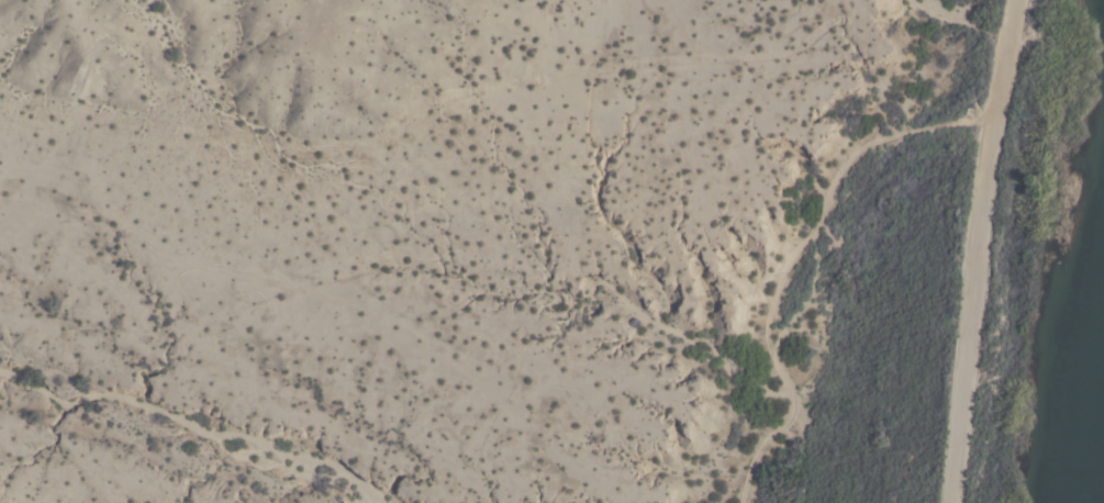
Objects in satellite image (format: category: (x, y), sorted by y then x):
road: (900, 249)

